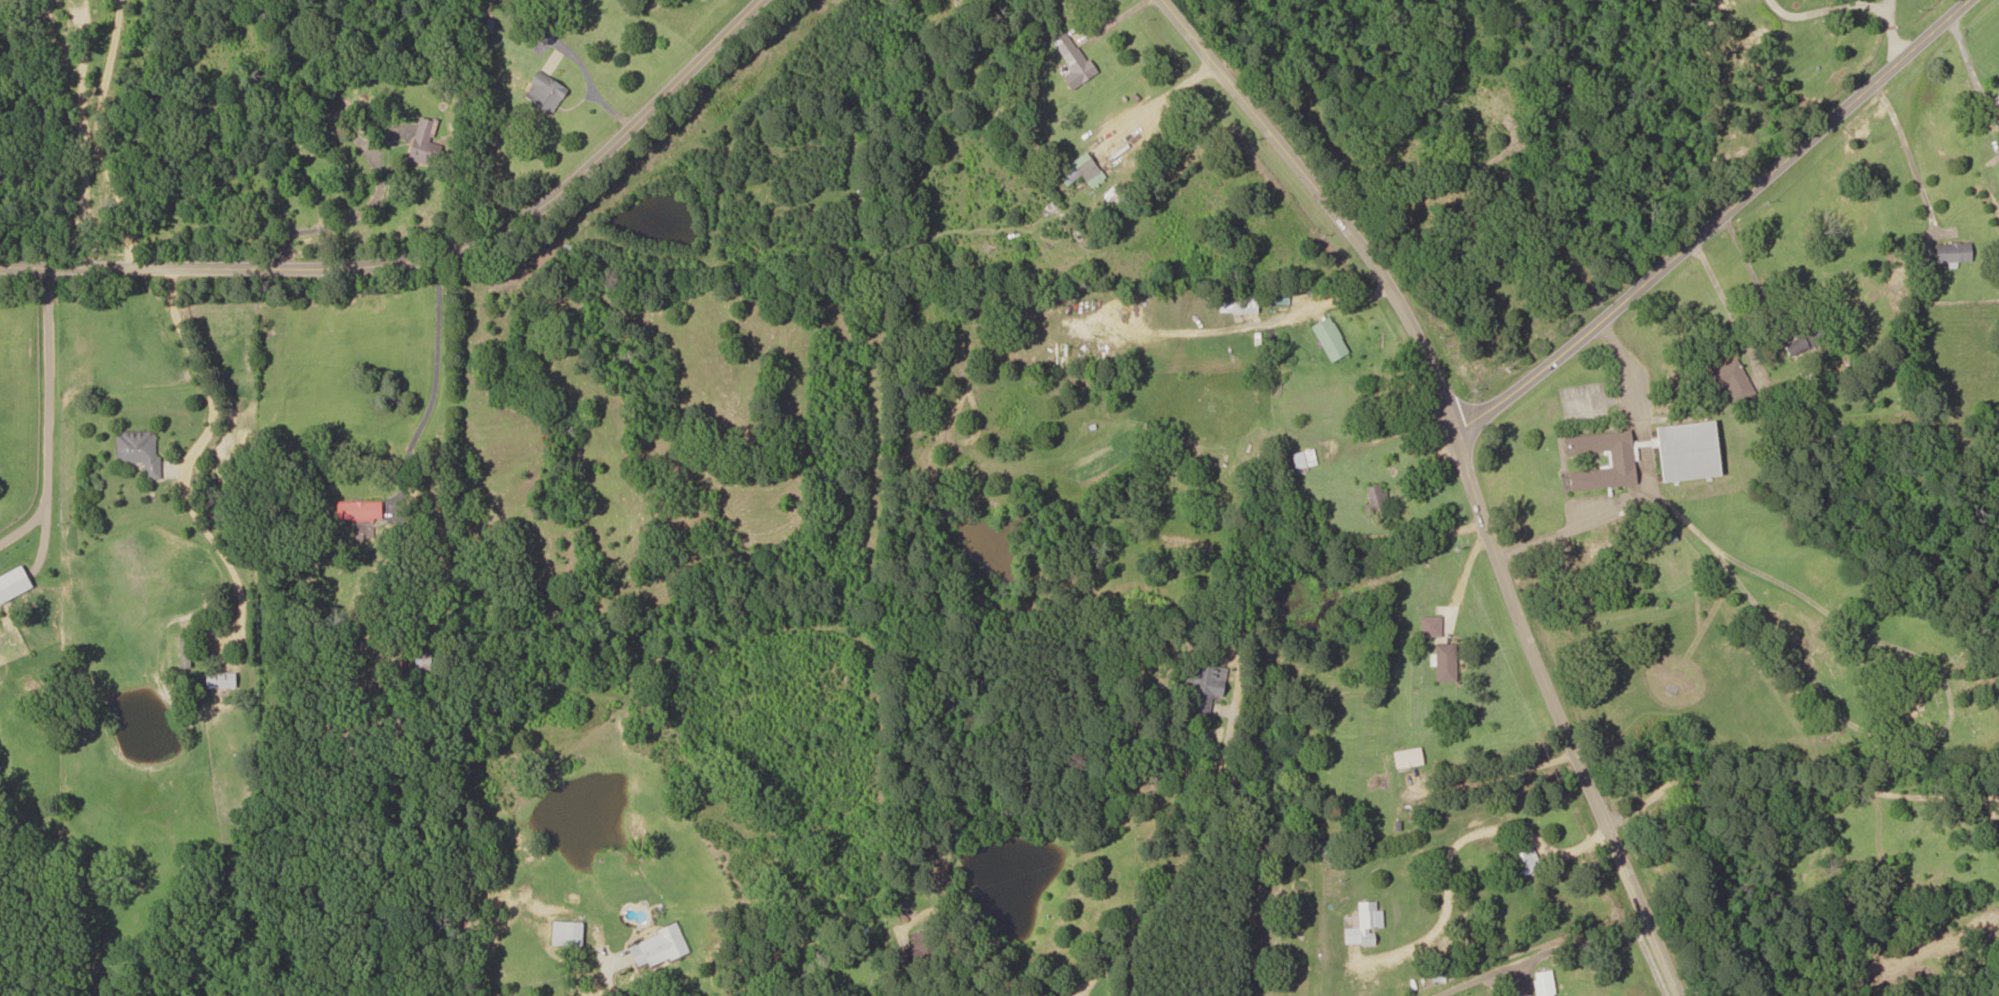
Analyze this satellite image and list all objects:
building: (1071, 61)
building: (544, 93)
building: (1485, 103)
building: (424, 143)
building: (1076, 170)
road: (1699, 208)
building: (1951, 251)
road: (420, 255)
building: (1242, 301)
building: (1807, 338)
building: (1329, 339)
building: (1729, 379)
building: (1684, 450)
building: (141, 451)
building: (1303, 459)
building: (1619, 460)
road: (1477, 477)
building: (1374, 496)
building: (362, 510)
building: (16, 584)
building: (1428, 625)
building: (424, 661)
building: (1443, 661)
building: (224, 680)
building: (1202, 685)
road: (1255, 686)
building: (1332, 713)
building: (1405, 757)
building: (1998, 836)
building: (1998, 857)
building: (1523, 861)
building: (1362, 924)
building: (565, 933)
building: (657, 946)
building: (1436, 969)
building: (1542, 983)

